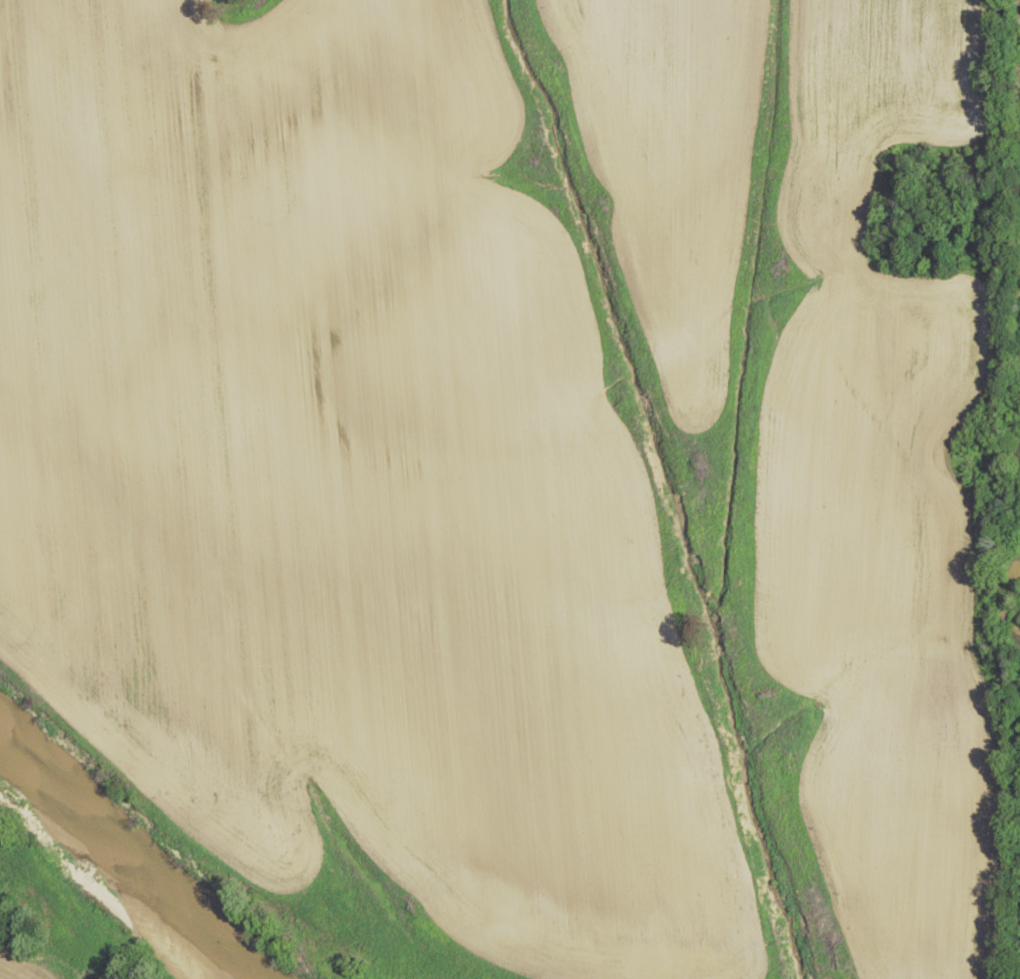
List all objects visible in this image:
river: (123, 870)

